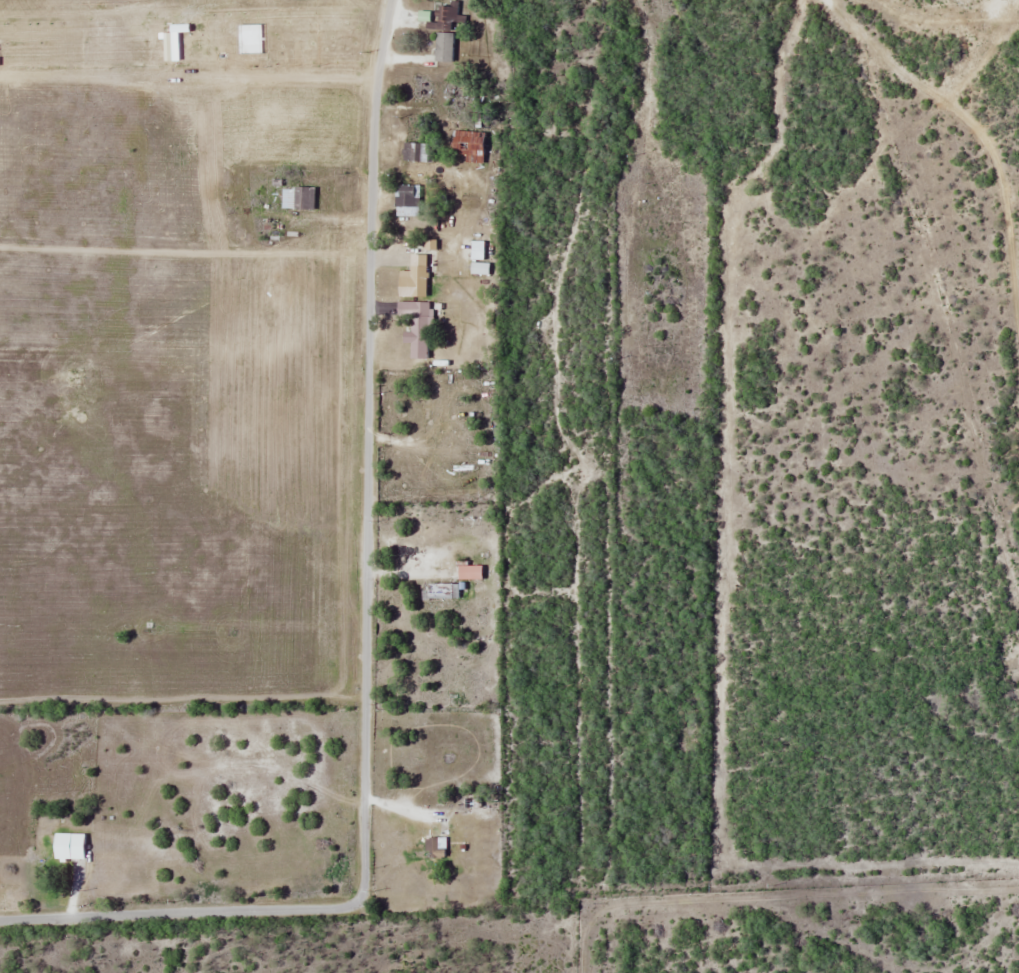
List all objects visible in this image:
building: (441, 28)
building: (468, 145)
building: (411, 152)
building: (405, 195)
building: (300, 197)
building: (476, 259)
building: (417, 266)
building: (418, 329)
building: (467, 572)
building: (440, 591)
road: (368, 629)
building: (72, 846)

